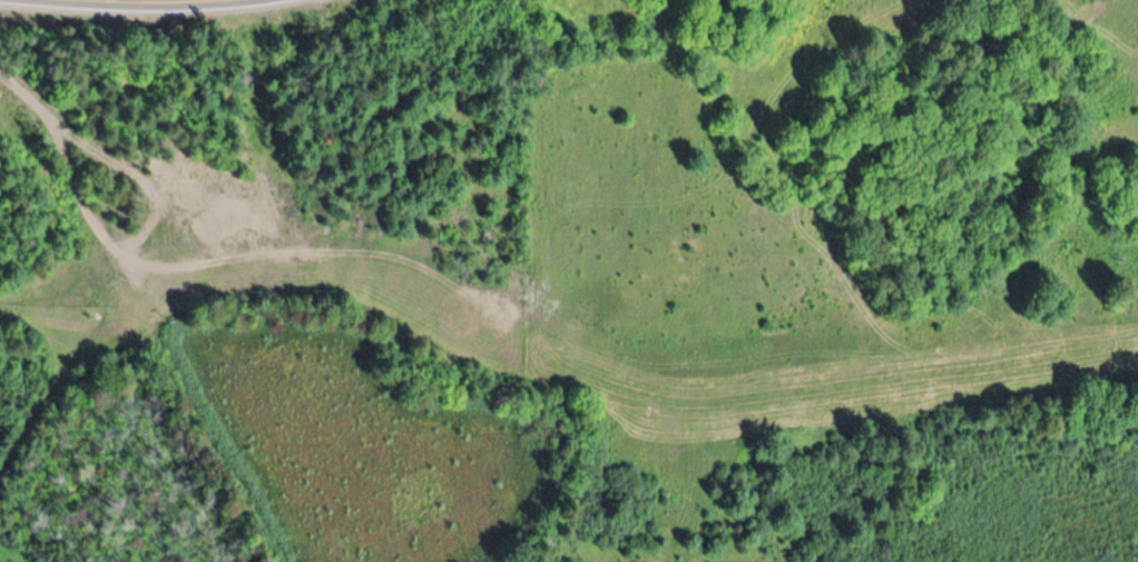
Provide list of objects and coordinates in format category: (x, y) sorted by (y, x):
road: (70, 168)
road: (66, 296)

